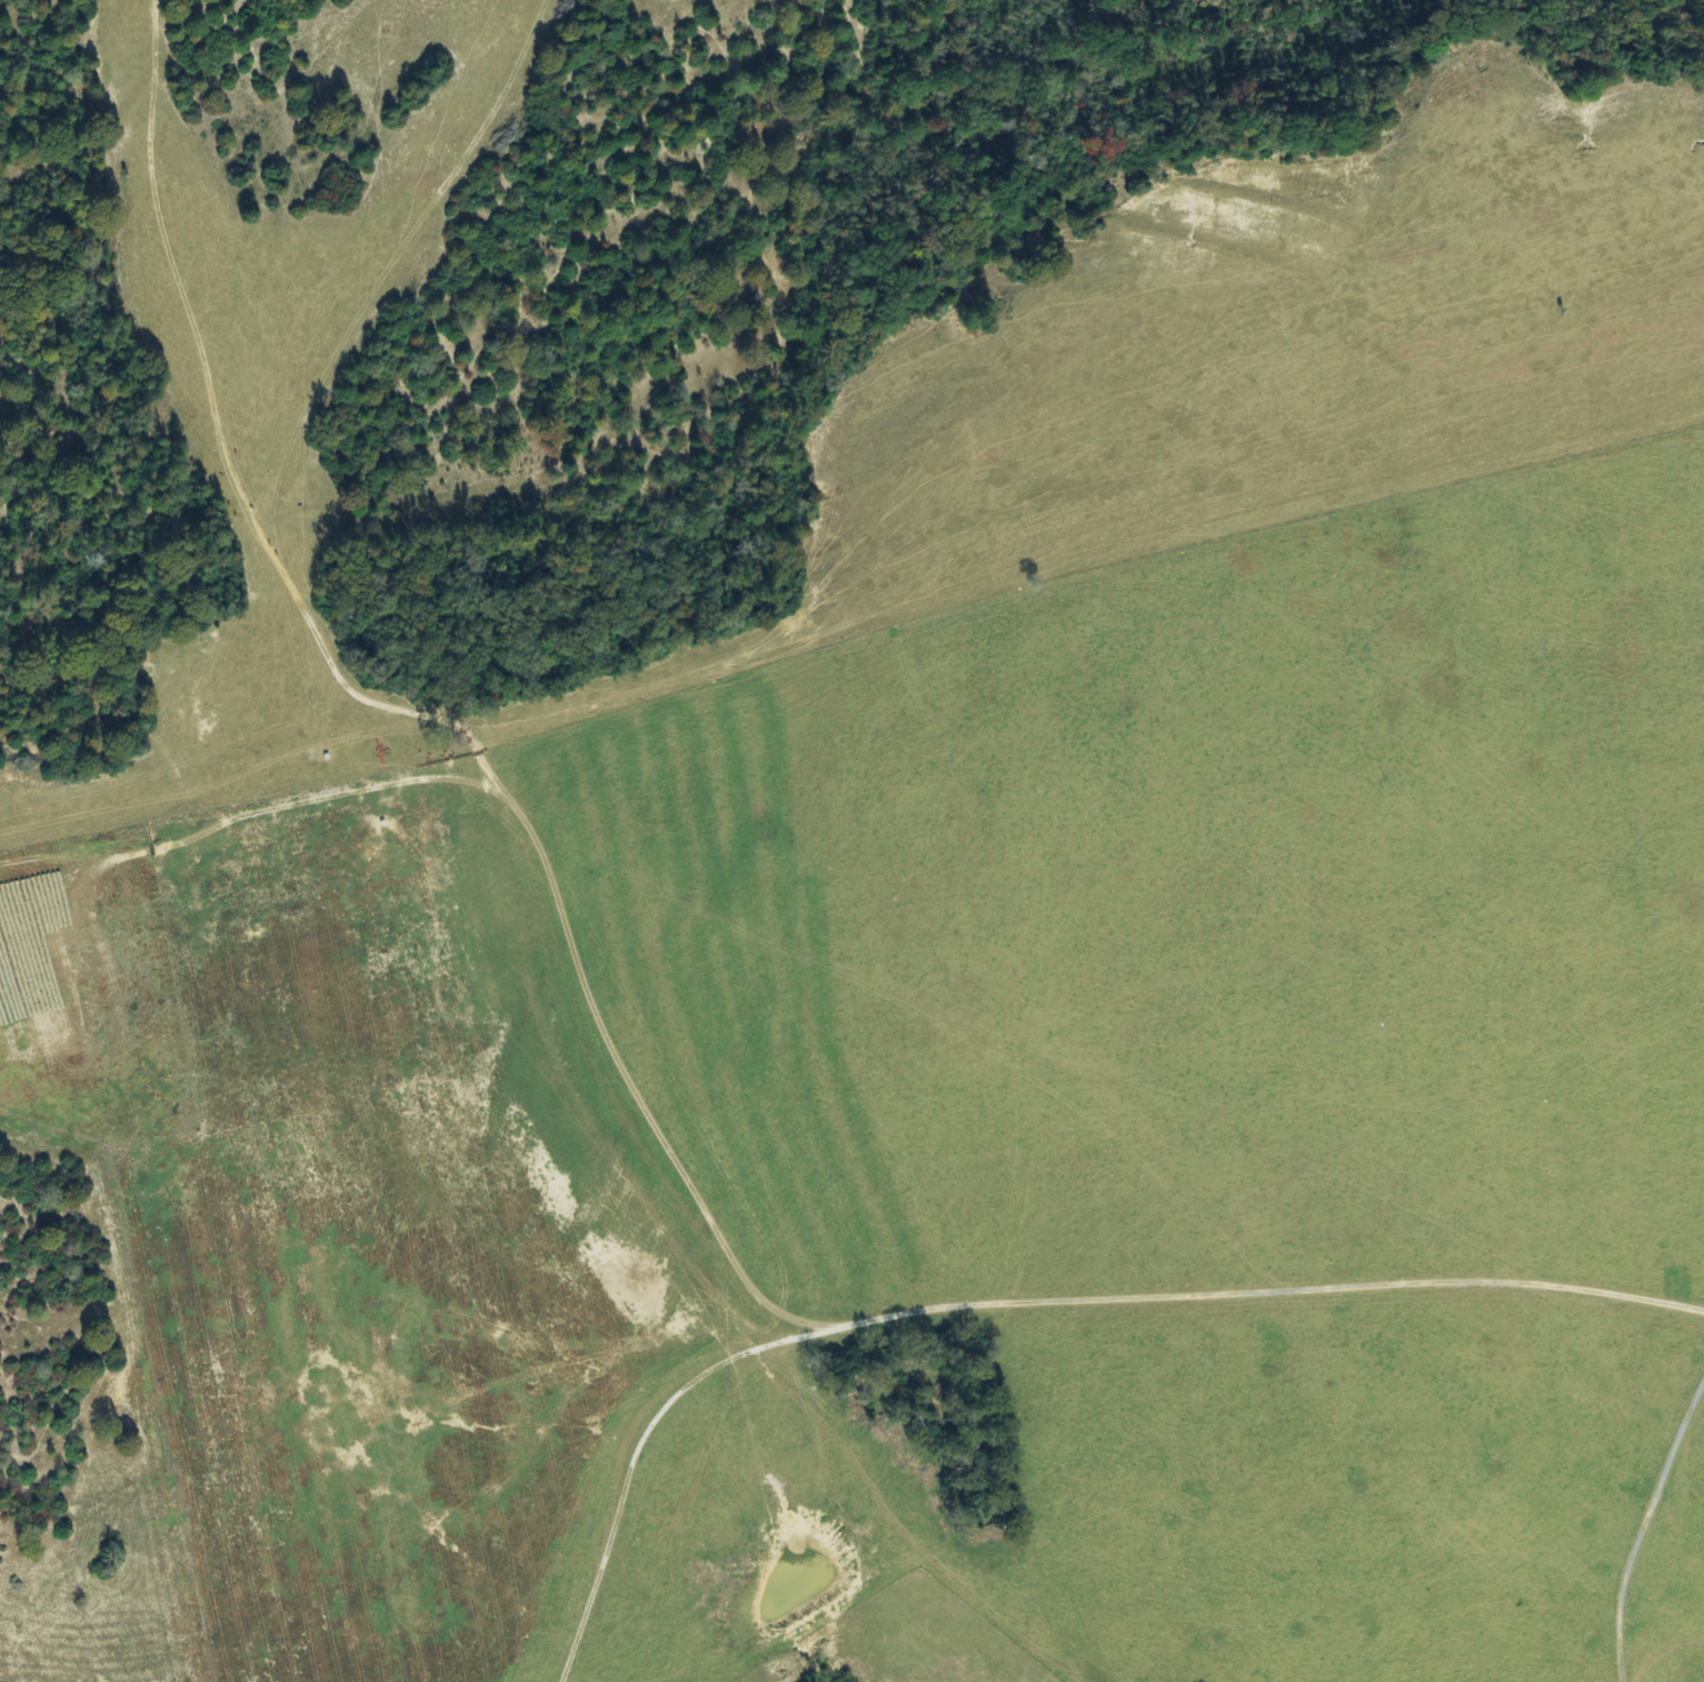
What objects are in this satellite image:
road: (596, 1466)
road: (906, 1493)
road: (1657, 1613)
road: (1570, 1663)

